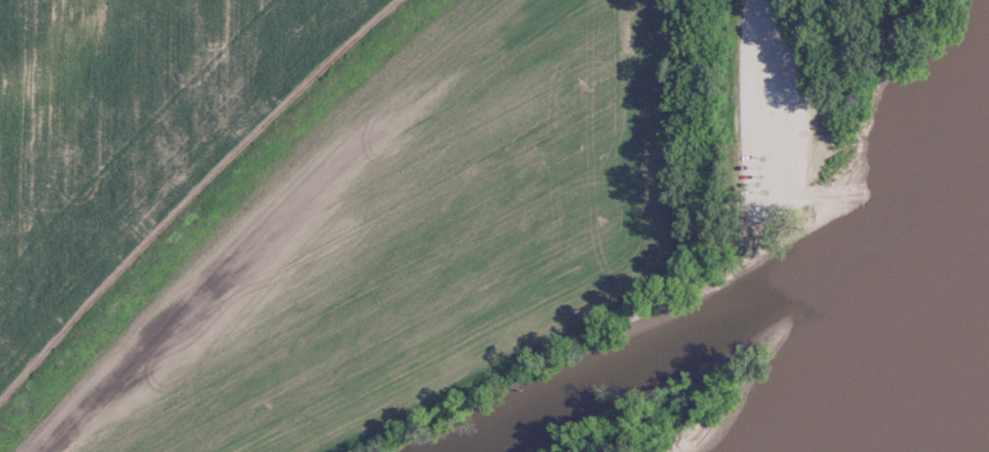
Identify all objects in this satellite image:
road: (762, 74)

